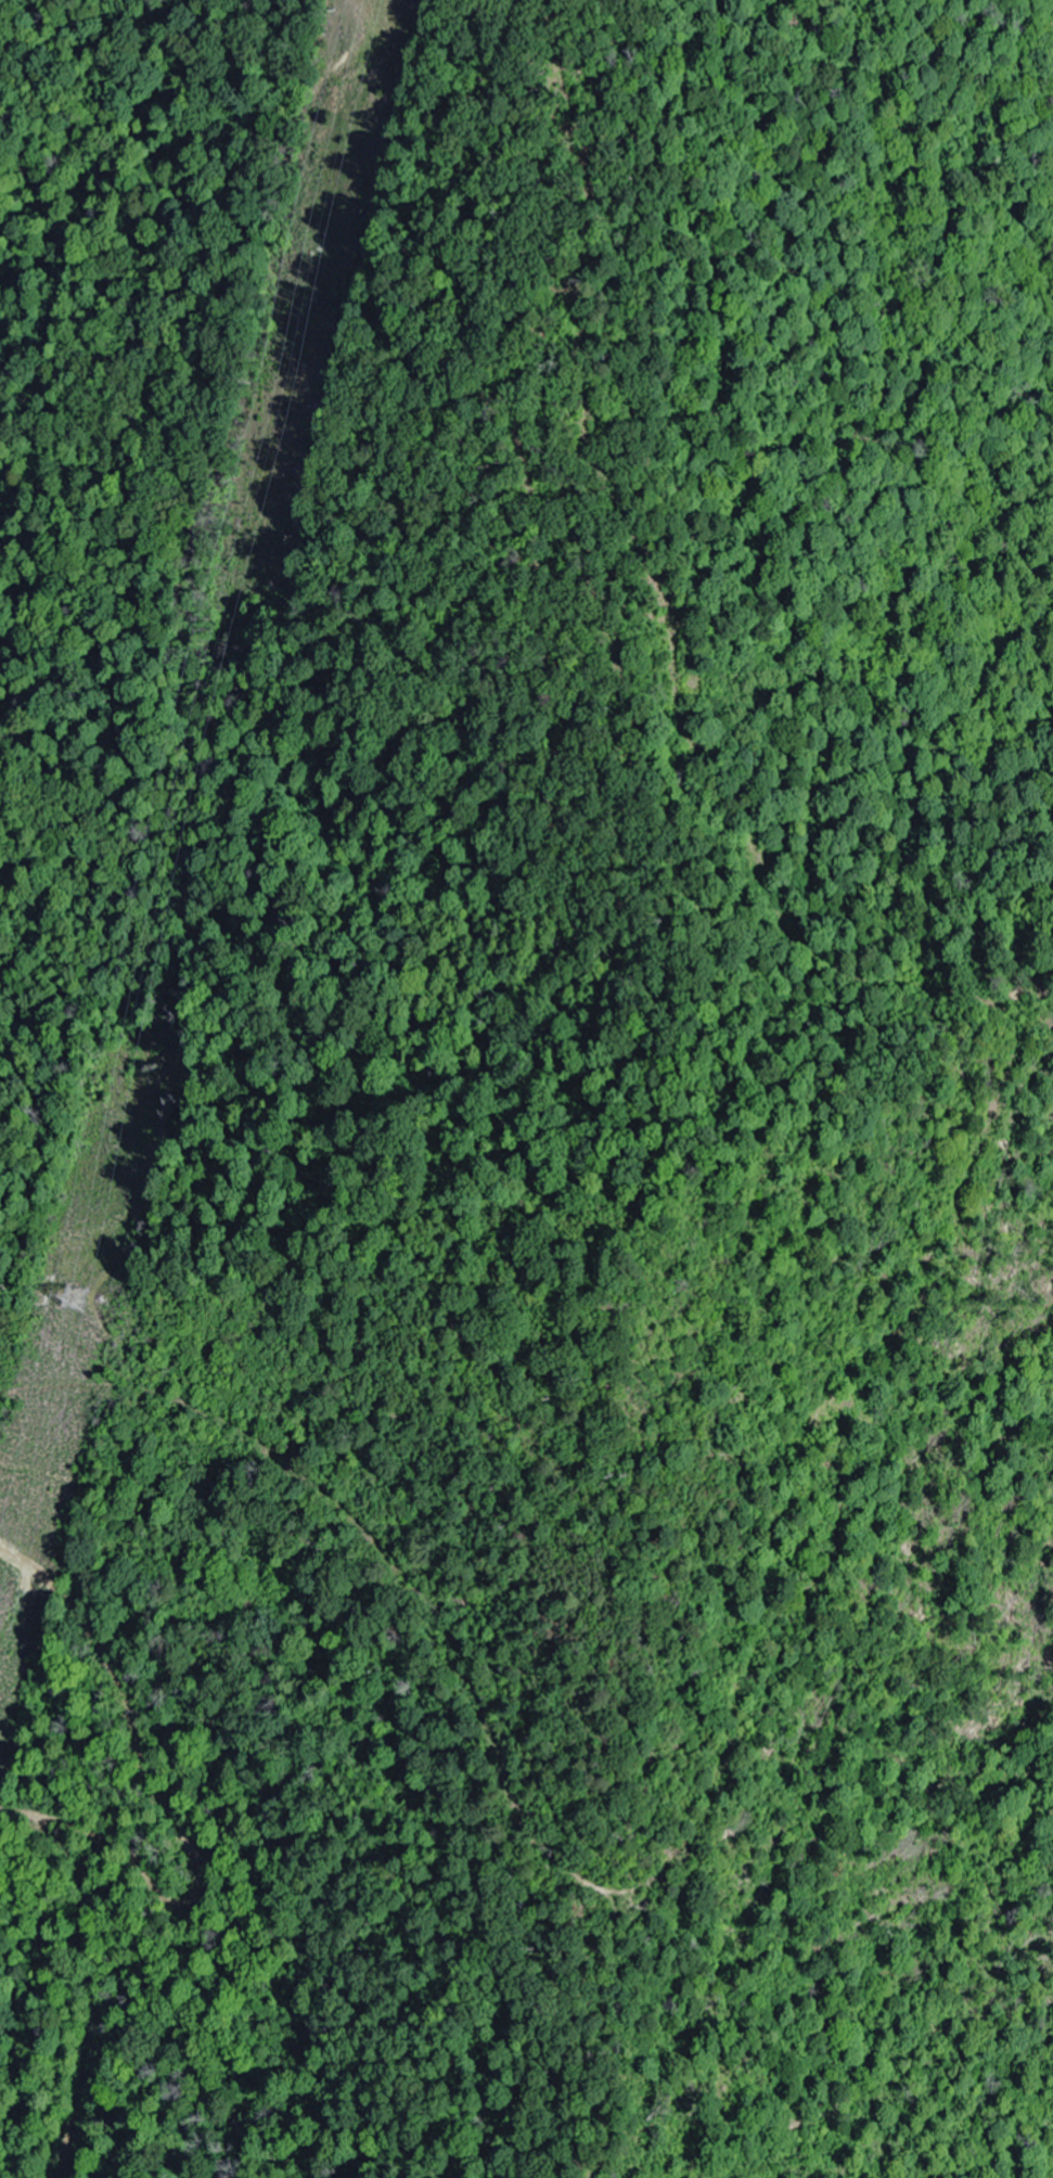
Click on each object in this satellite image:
power tower: (91, 1298)

